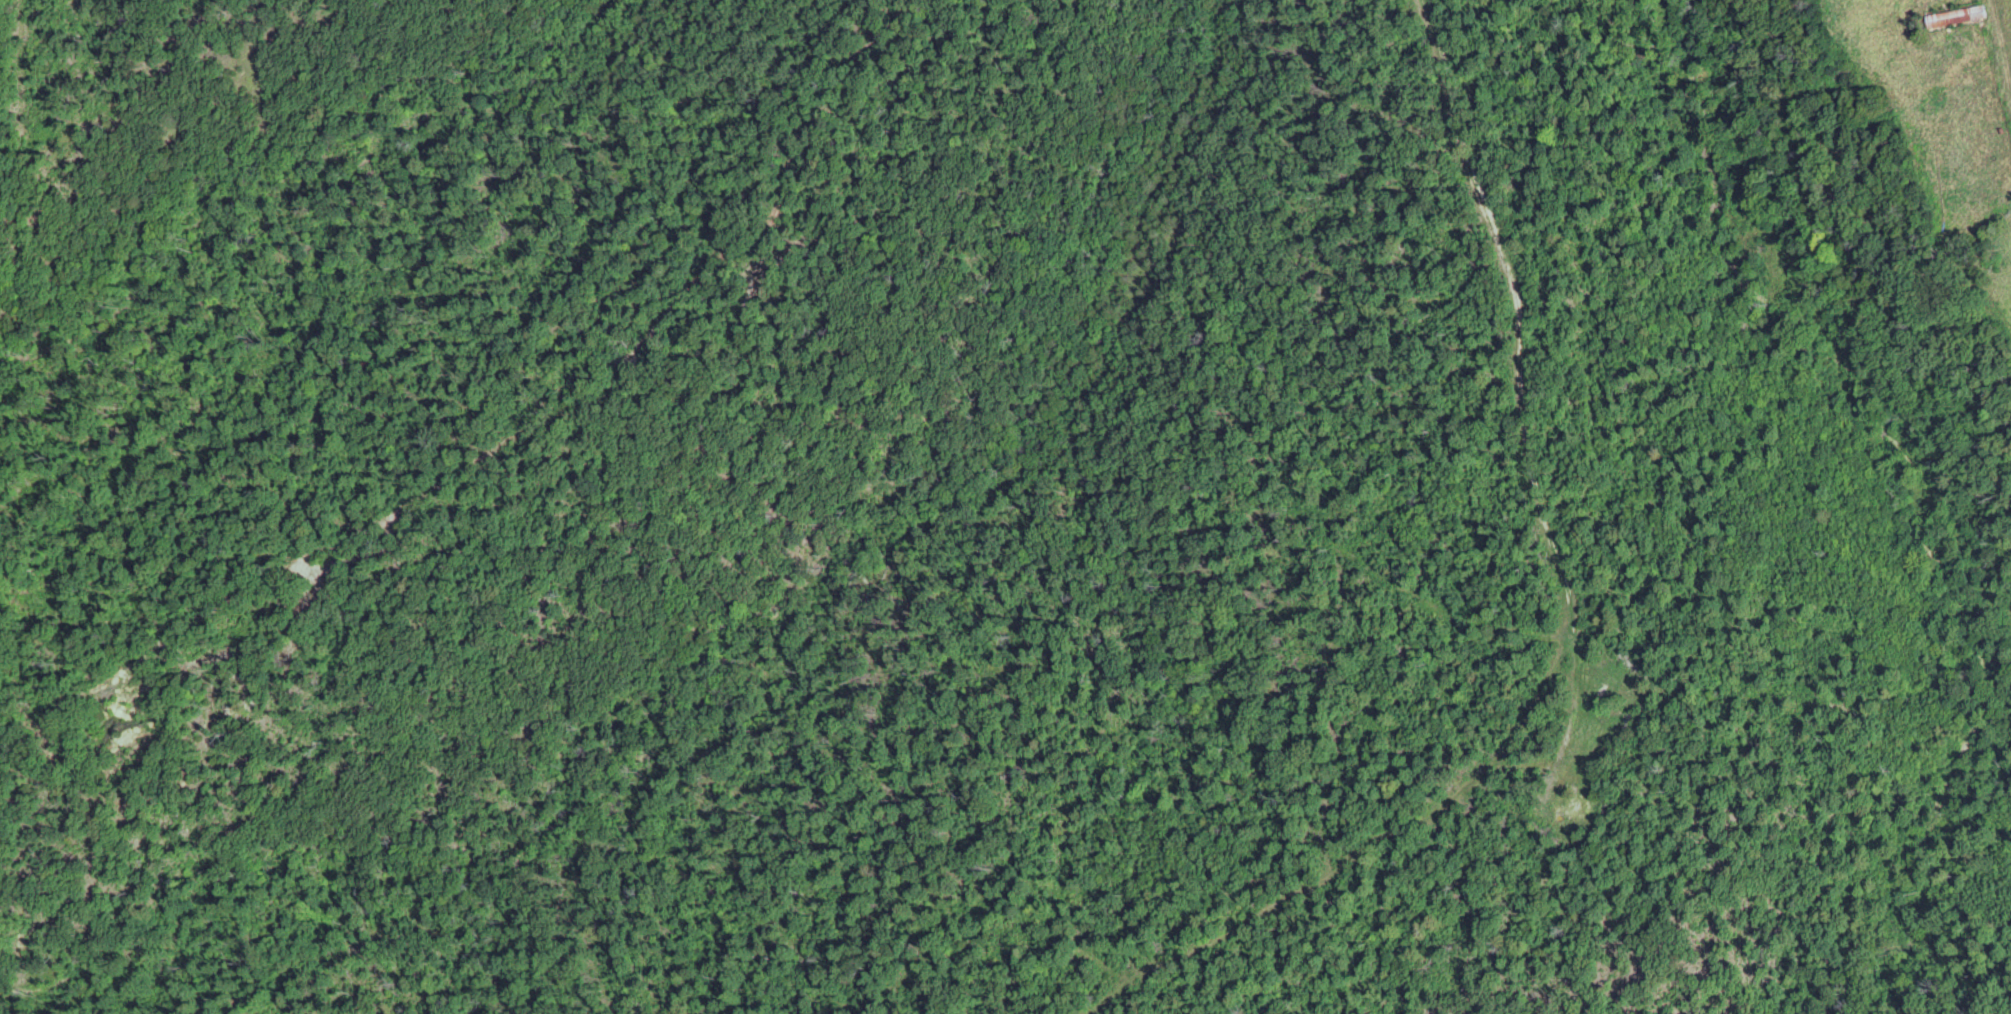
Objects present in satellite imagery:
building: (1951, 17)
road: (2001, 49)

